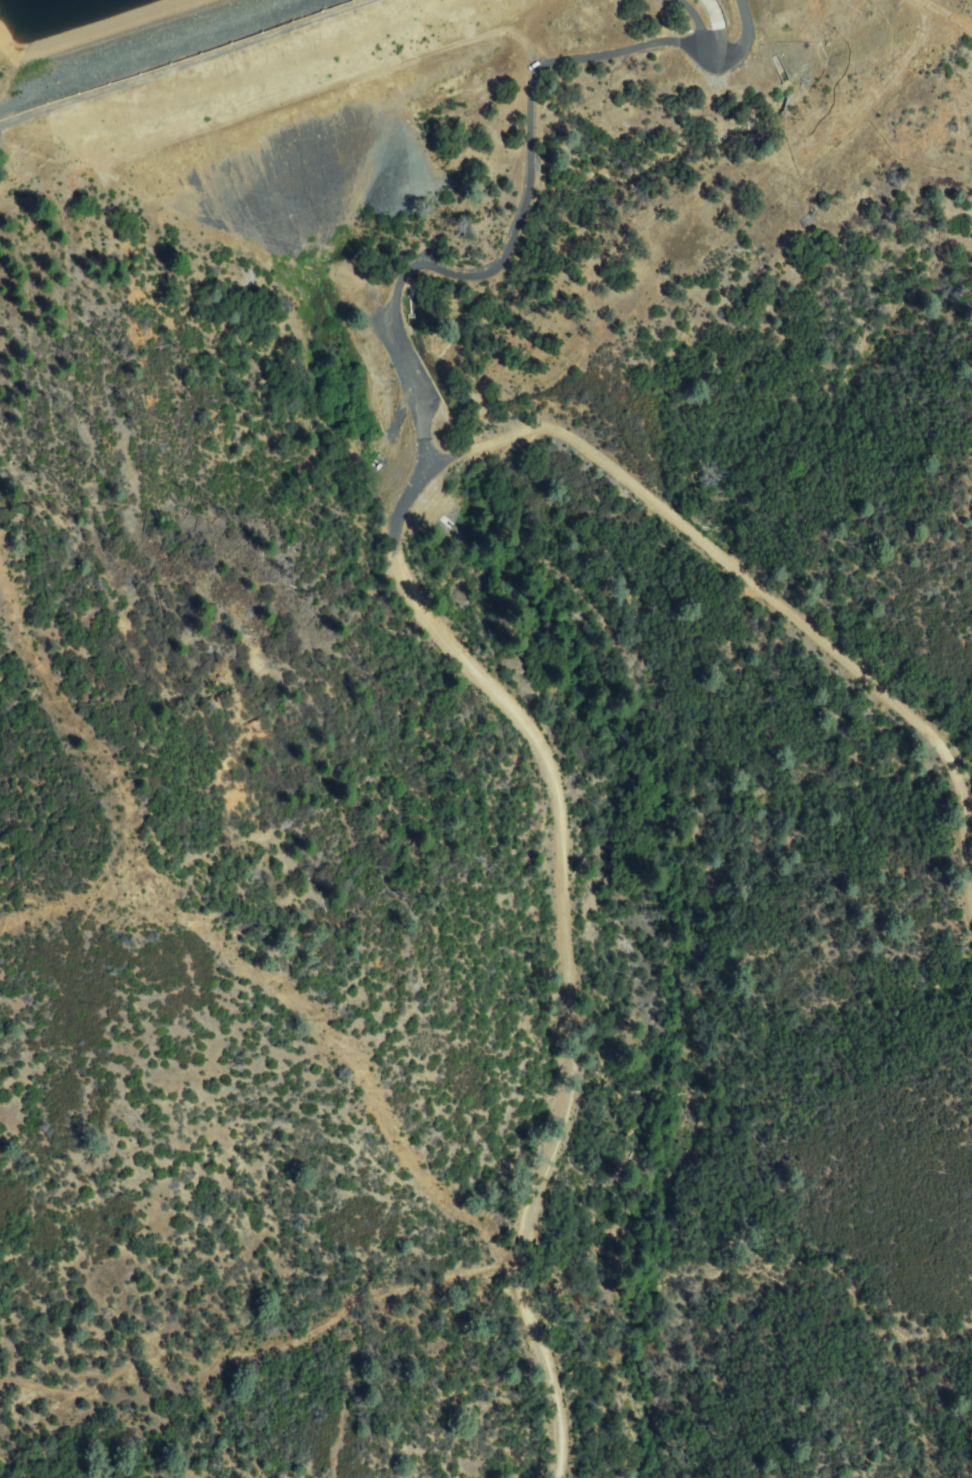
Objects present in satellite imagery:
road: (717, 24)
road: (720, 49)
dam: (156, 53)
road: (184, 63)
road: (501, 262)
road: (421, 610)

